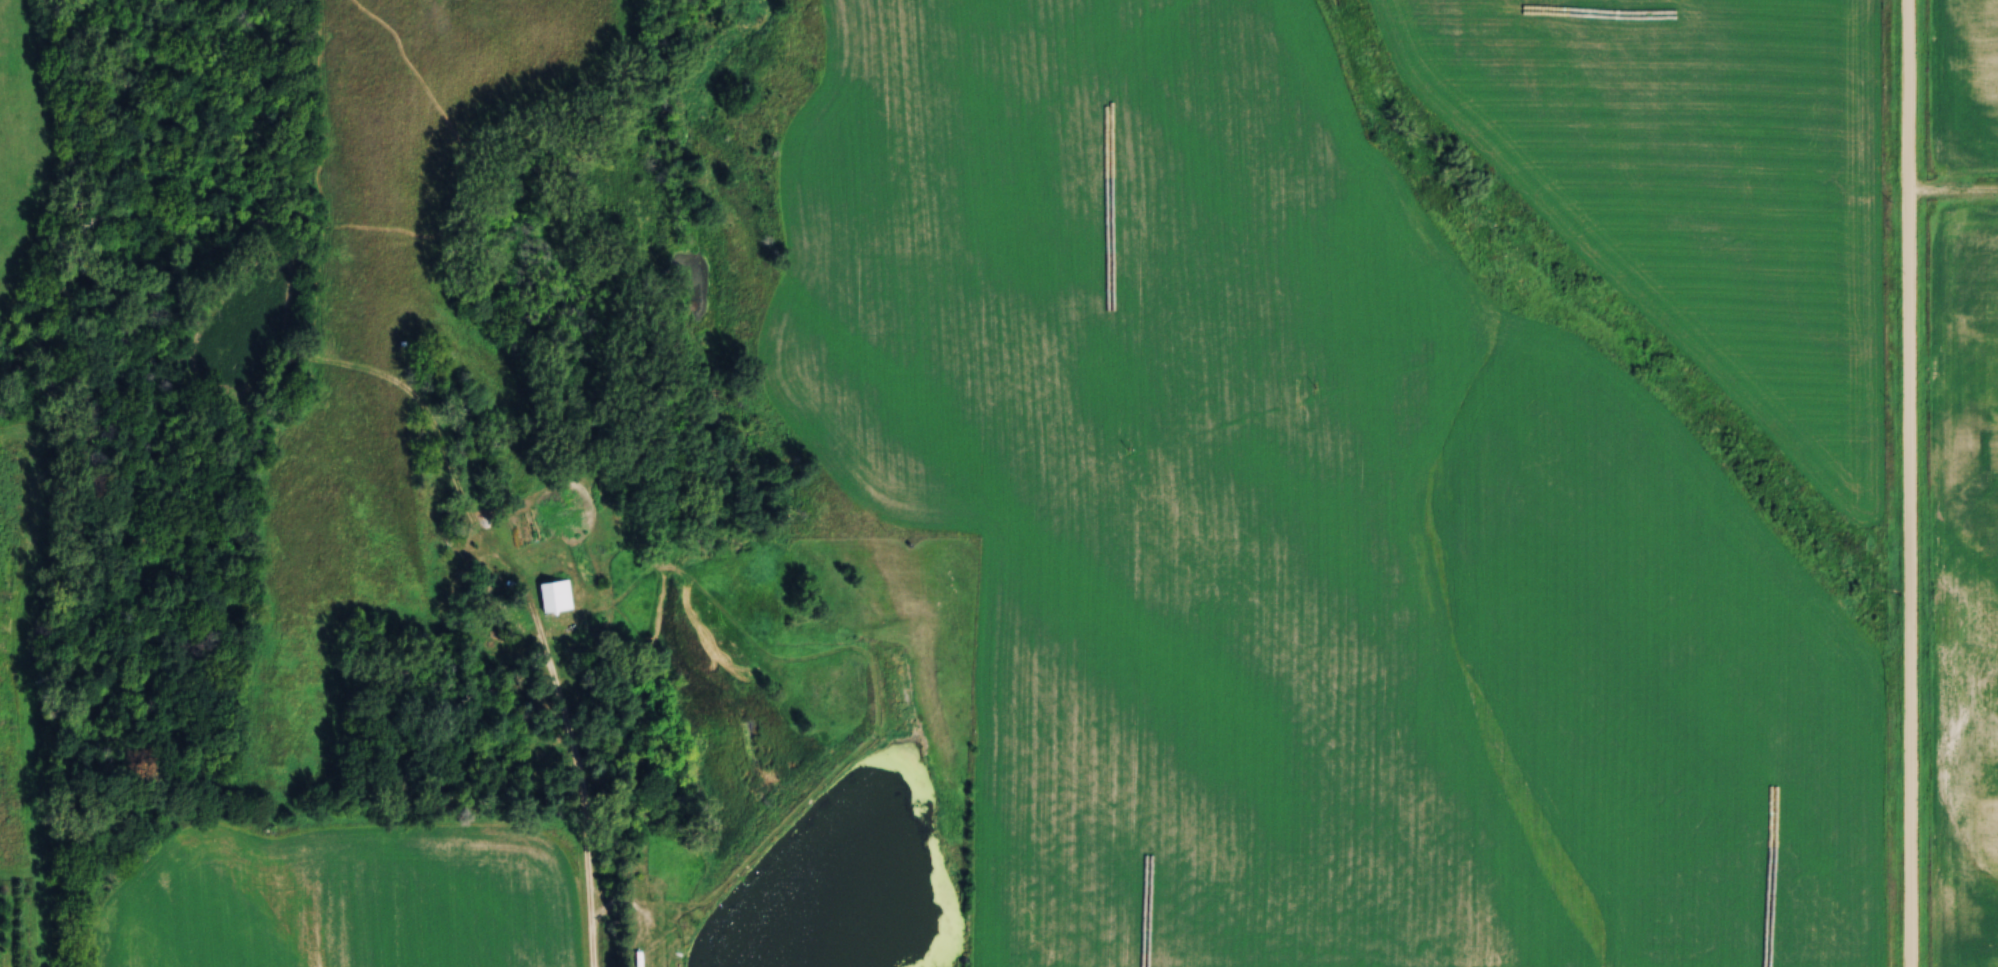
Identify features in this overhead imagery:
road: (1954, 192)
road: (1911, 483)
building: (555, 596)
road: (583, 806)

